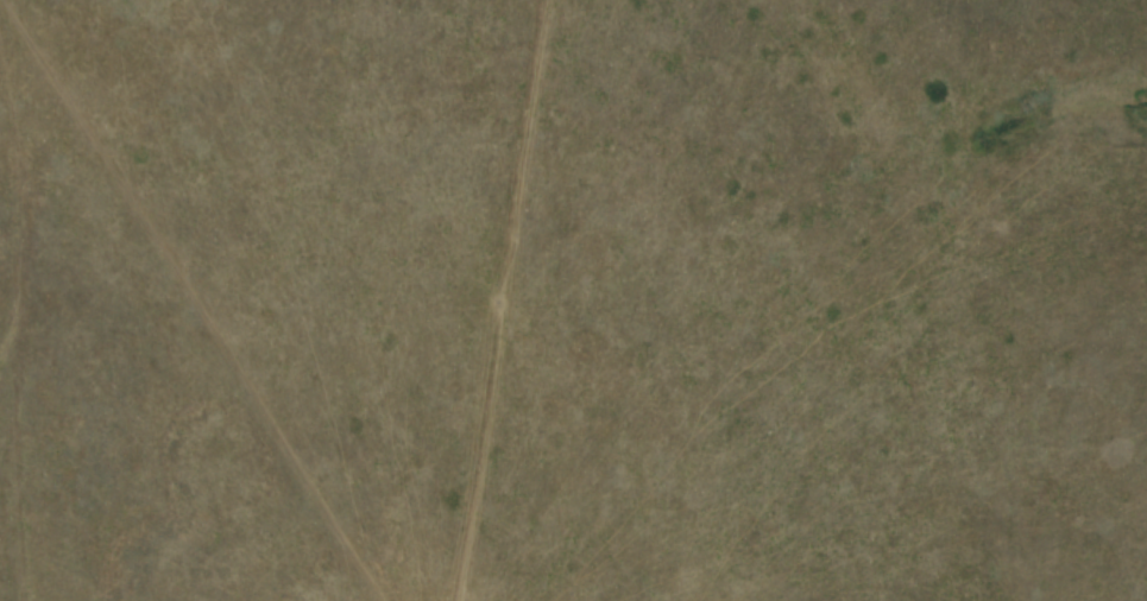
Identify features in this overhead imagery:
road: (68, 213)
road: (204, 335)

